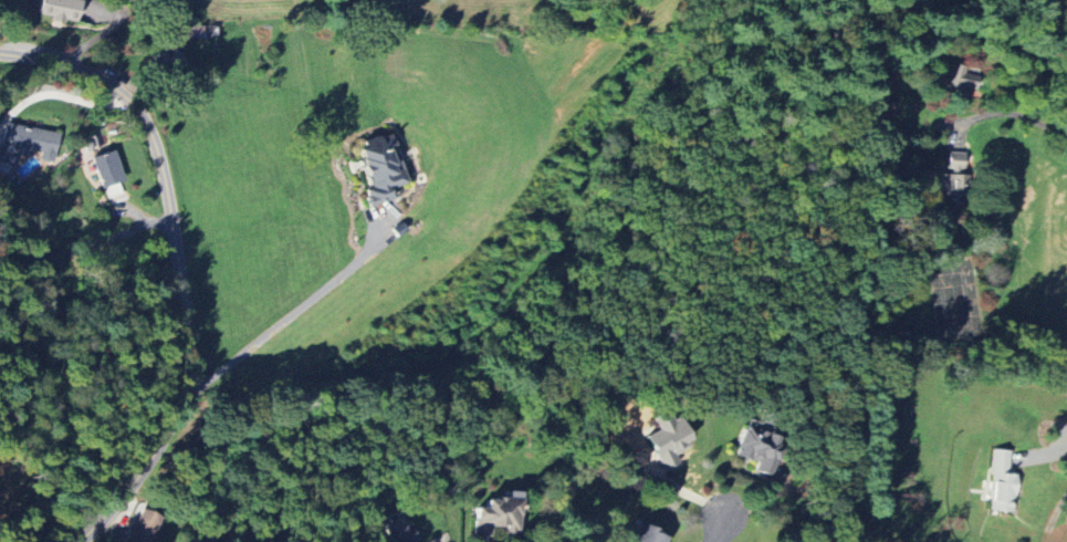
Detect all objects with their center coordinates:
building: (59, 9)
building: (171, 65)
building: (964, 77)
road: (1014, 97)
building: (887, 101)
building: (27, 144)
building: (379, 167)
building: (955, 176)
building: (111, 177)
road: (87, 246)
road: (179, 263)
road: (287, 316)
building: (668, 442)
building: (759, 452)
building: (1003, 482)
building: (498, 518)
road: (721, 525)
building: (144, 527)
building: (398, 531)
building: (648, 534)

